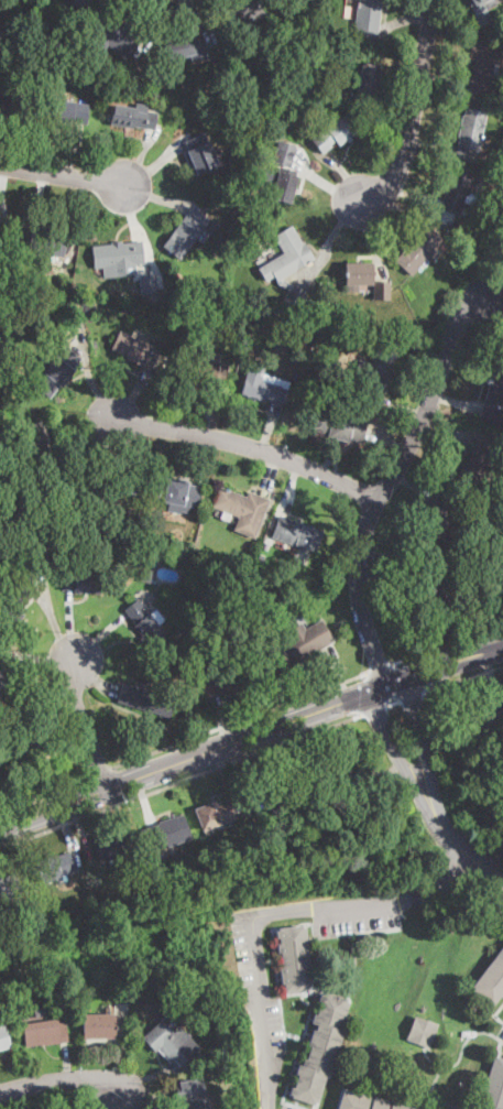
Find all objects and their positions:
building: (482, 1)
building: (83, 2)
building: (243, 12)
building: (369, 15)
road: (153, 18)
road: (207, 24)
building: (1, 36)
building: (119, 37)
building: (187, 48)
building: (319, 59)
building: (261, 63)
building: (483, 64)
building: (368, 79)
building: (117, 88)
building: (252, 93)
building: (332, 93)
building: (12, 107)
road: (414, 108)
building: (67, 111)
building: (133, 117)
building: (261, 122)
building: (471, 129)
building: (332, 132)
road: (14, 146)
road: (72, 151)
building: (200, 152)
road: (139, 159)
road: (153, 164)
building: (482, 170)
building: (284, 172)
road: (63, 176)
road: (1, 178)
building: (458, 189)
road: (155, 196)
road: (32, 210)
building: (0, 217)
road: (136, 219)
building: (468, 229)
building: (185, 233)
building: (48, 242)
building: (221, 246)
building: (419, 250)
building: (283, 253)
building: (119, 257)
building: (14, 263)
building: (359, 273)
building: (149, 283)
building: (382, 291)
building: (294, 301)
building: (216, 302)
building: (3, 312)
building: (12, 328)
building: (327, 341)
building: (135, 350)
building: (324, 352)
building: (204, 369)
building: (375, 370)
building: (57, 372)
building: (335, 381)
building: (263, 385)
building: (493, 398)
building: (340, 425)
building: (37, 443)
road: (249, 446)
building: (478, 466)
road: (389, 481)
building: (174, 492)
building: (108, 502)
building: (241, 510)
building: (435, 520)
building: (1, 529)
building: (24, 533)
building: (296, 533)
building: (182, 550)
building: (129, 554)
building: (160, 556)
building: (217, 558)
building: (273, 573)
building: (144, 576)
building: (80, 580)
building: (430, 590)
building: (253, 596)
building: (473, 597)
building: (15, 604)
building: (144, 622)
building: (181, 628)
building: (299, 644)
road: (447, 645)
road: (381, 668)
building: (154, 670)
building: (2, 676)
road: (462, 676)
building: (227, 678)
road: (411, 693)
building: (145, 700)
road: (393, 702)
road: (372, 709)
building: (486, 717)
road: (242, 719)
road: (84, 725)
road: (250, 737)
building: (23, 741)
road: (425, 748)
road: (398, 758)
building: (330, 766)
road: (100, 771)
road: (179, 781)
road: (43, 793)
building: (274, 794)
building: (236, 805)
building: (356, 808)
building: (215, 814)
building: (302, 814)
building: (313, 819)
building: (170, 833)
building: (284, 835)
building: (111, 846)
building: (189, 846)
road: (464, 852)
building: (55, 867)
road: (438, 885)
building: (9, 888)
building: (91, 905)
building: (367, 936)
road: (255, 939)
building: (295, 958)
building: (491, 980)
parking lot: (256, 998)
building: (1, 1002)
building: (98, 1026)
building: (44, 1031)
building: (423, 1031)
building: (163, 1037)
parking lot: (501, 1037)
building: (4, 1039)
building: (321, 1048)
road: (61, 1079)
building: (493, 1086)
building: (190, 1092)
building: (365, 1101)

